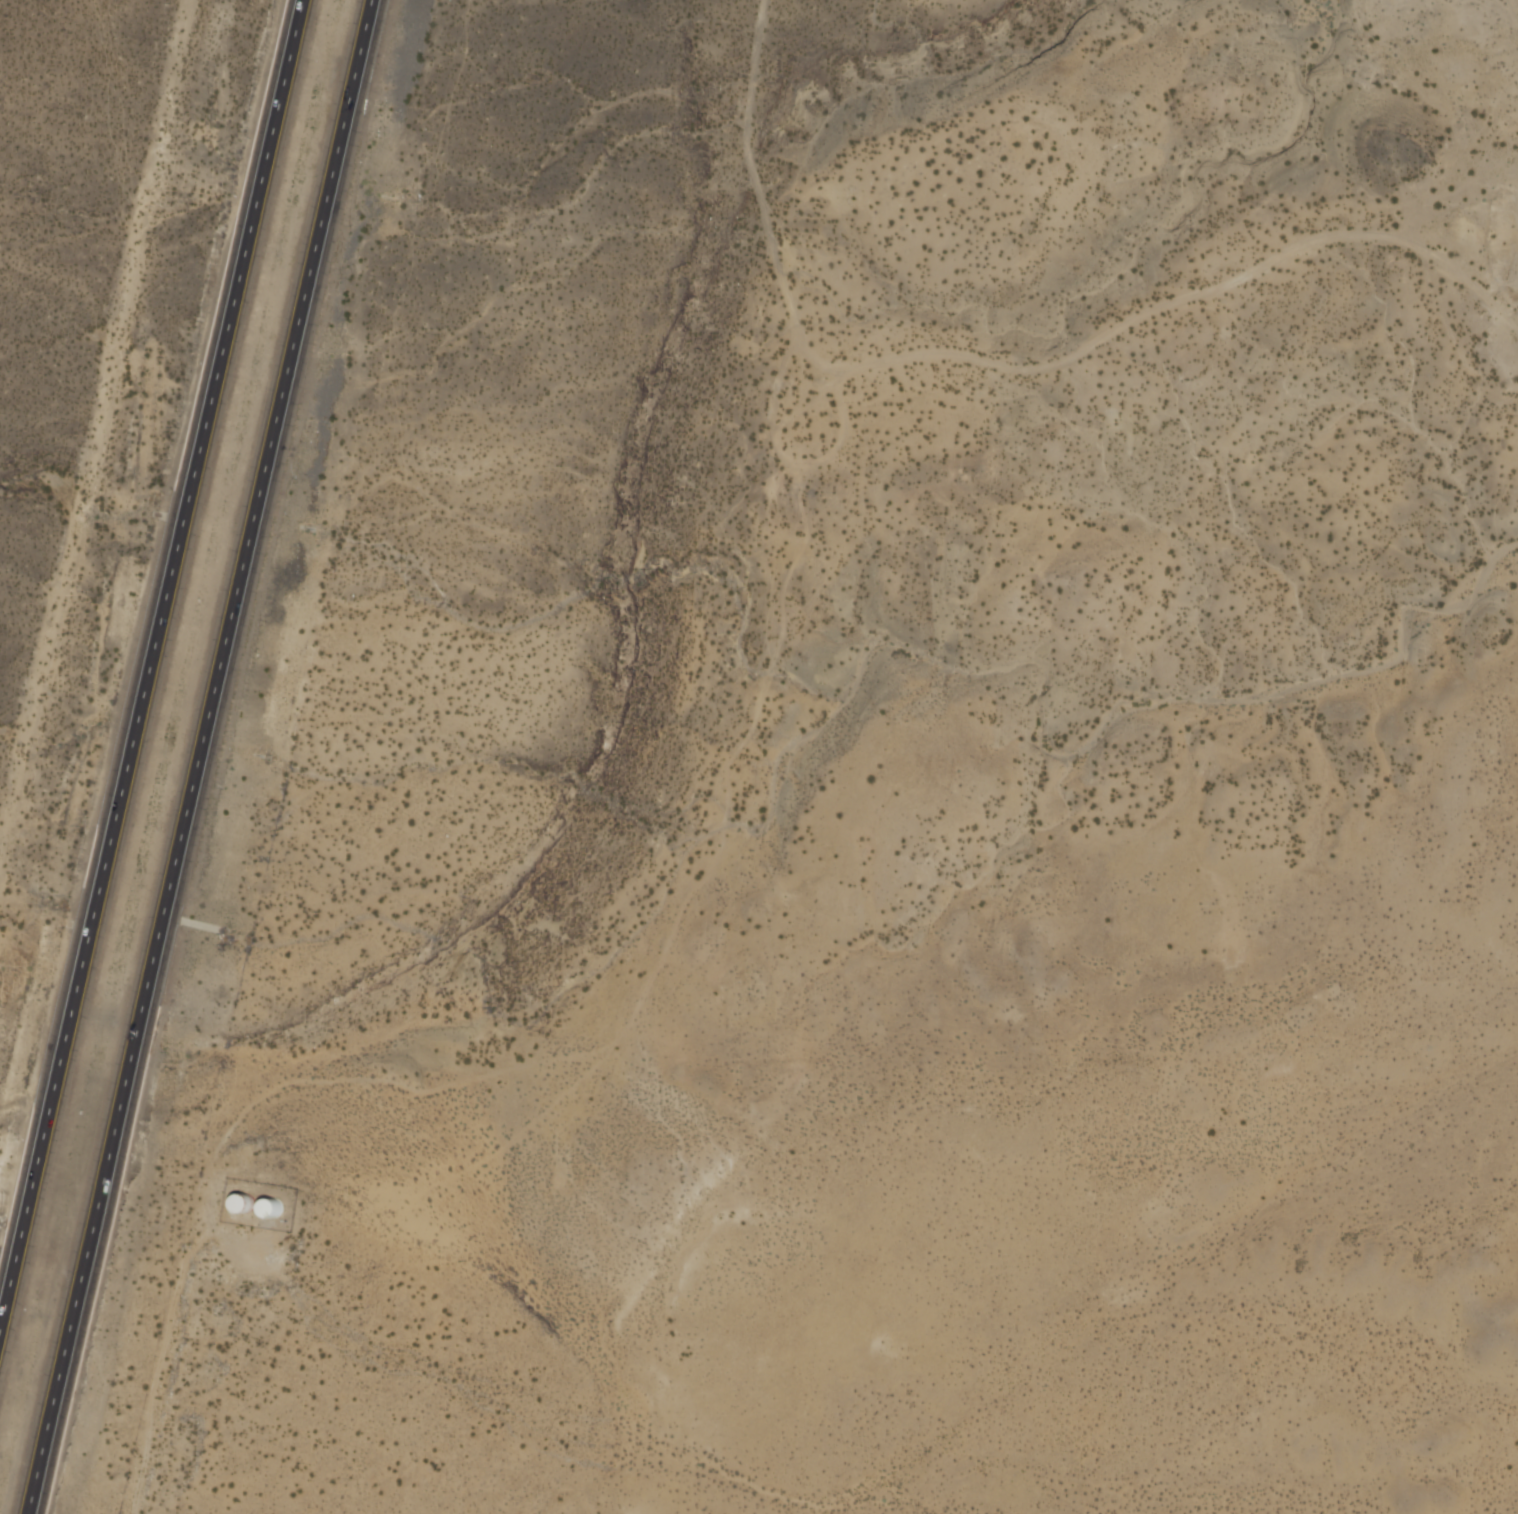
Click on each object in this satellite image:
road: (151, 664)
road: (202, 757)

